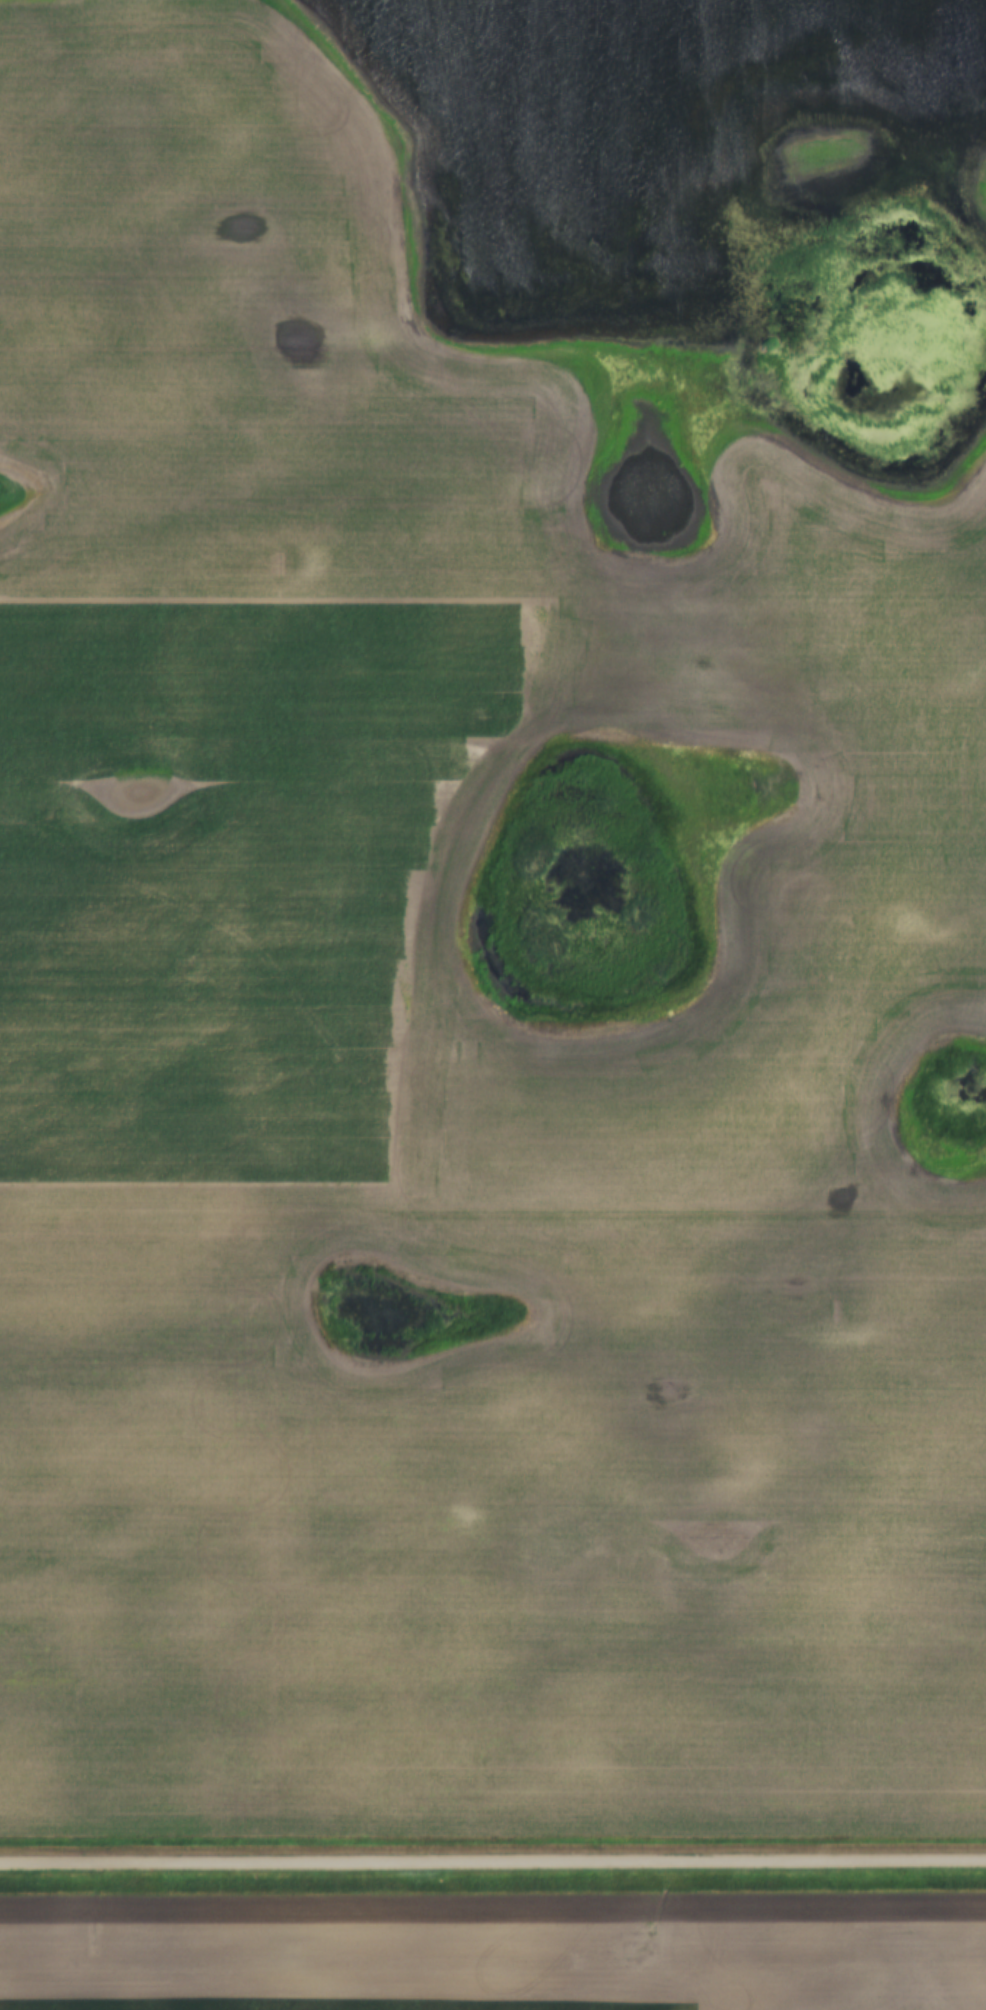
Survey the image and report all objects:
road: (492, 1860)

